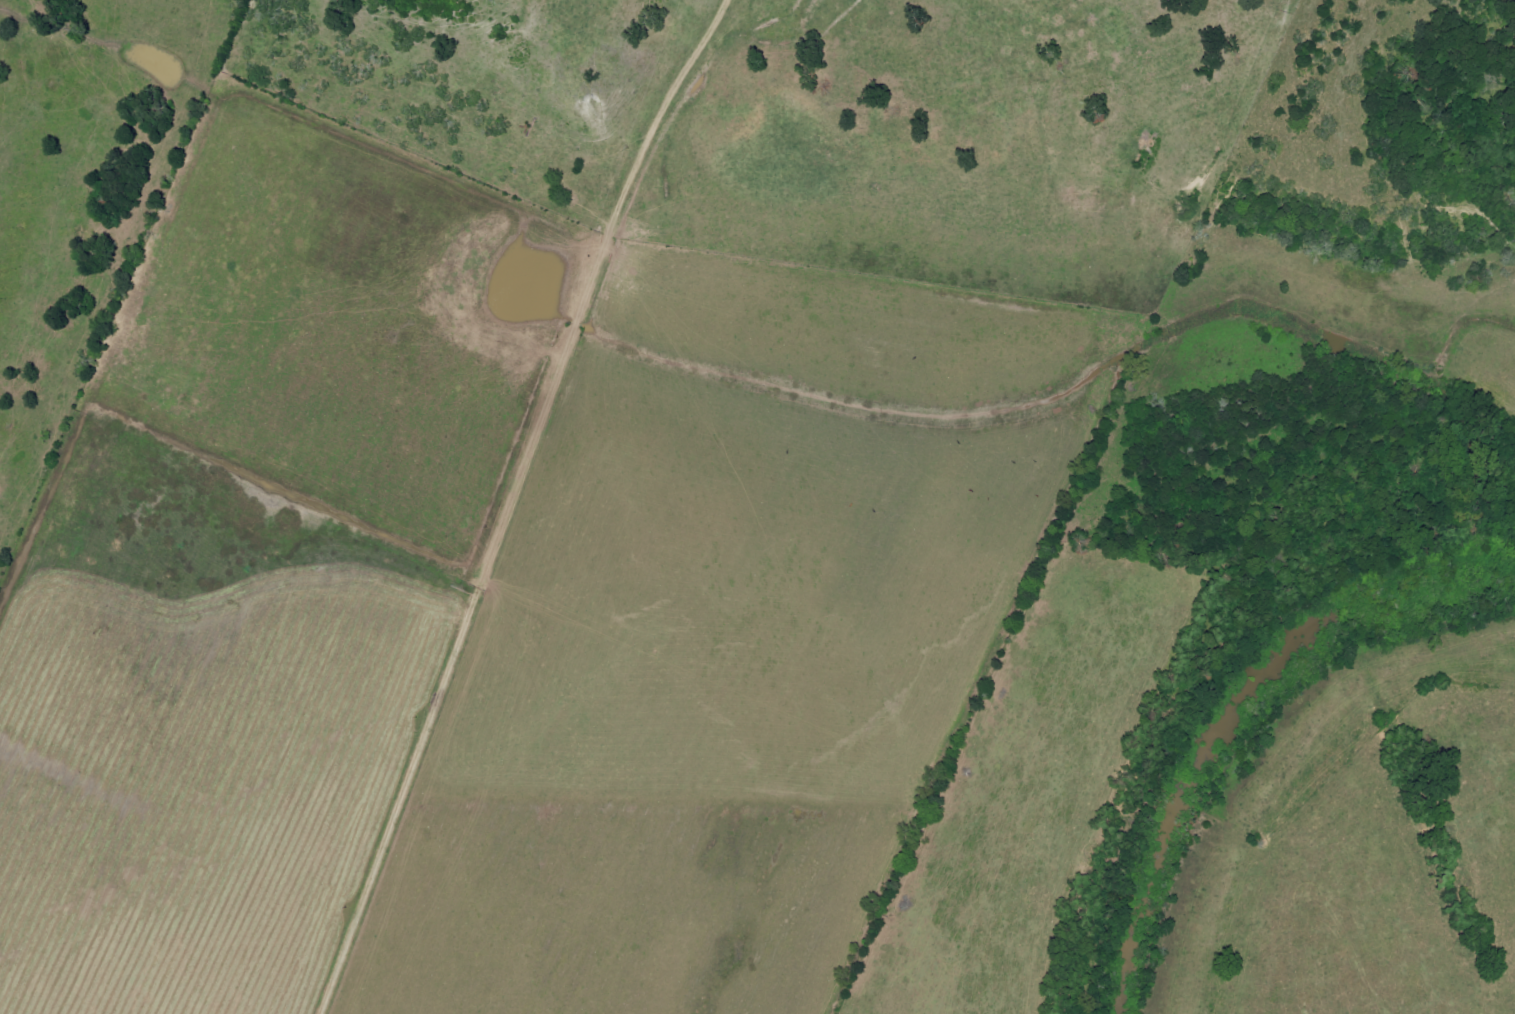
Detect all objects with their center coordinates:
road: (503, 507)

